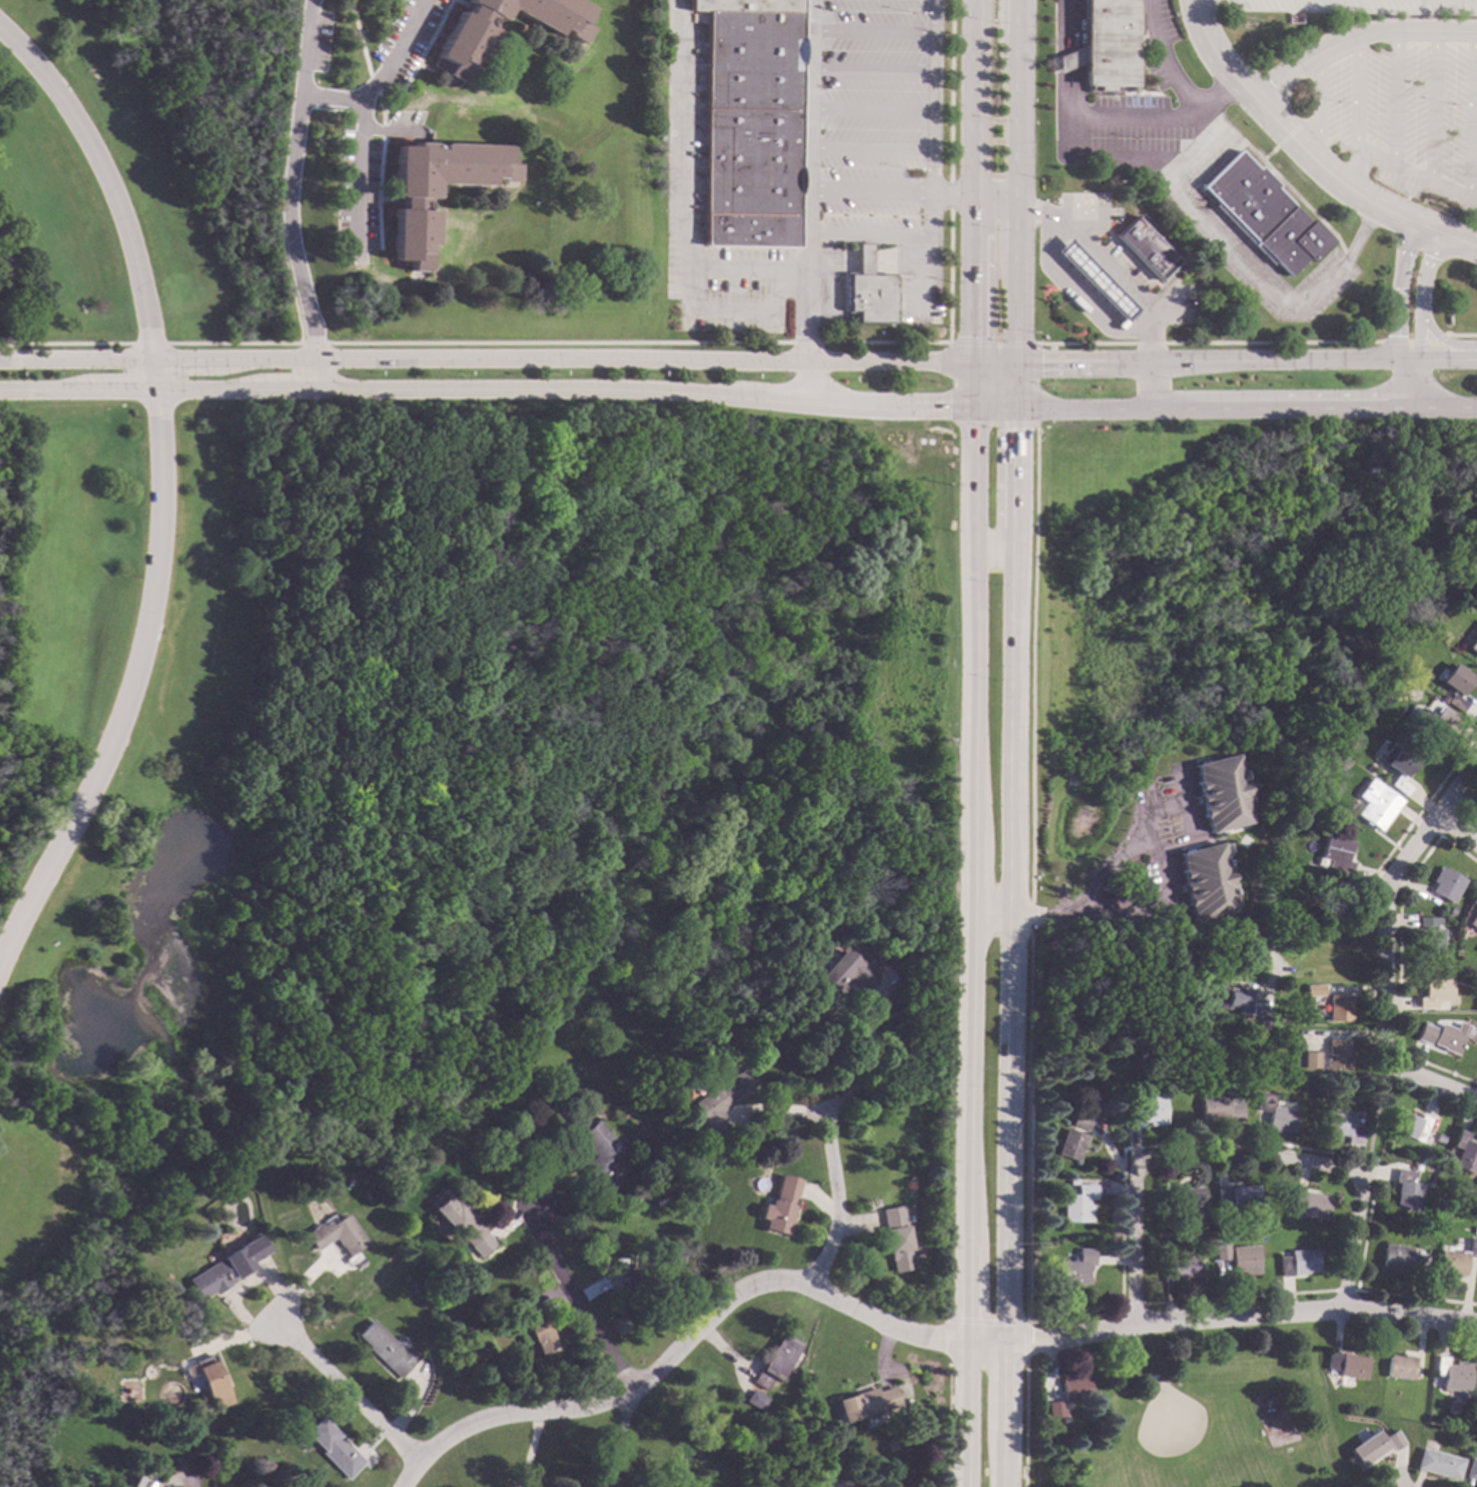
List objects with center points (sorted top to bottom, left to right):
road: (1020, 16)
road: (1073, 25)
road: (874, 32)
road: (1354, 34)
building: (466, 39)
building: (1104, 44)
road: (1165, 57)
road: (1073, 58)
road: (873, 71)
parking lot: (1374, 86)
road: (1072, 90)
road: (1215, 92)
road: (936, 96)
road: (1391, 97)
road: (332, 99)
road: (1430, 106)
road: (1315, 107)
road: (873, 110)
road: (1018, 113)
road: (1352, 114)
road: (1467, 115)
road: (679, 119)
road: (362, 121)
building: (752, 122)
road: (394, 130)
road: (1280, 130)
road: (872, 148)
road: (1076, 155)
road: (1155, 167)
road: (1176, 167)
road: (1414, 174)
road: (809, 180)
road: (871, 192)
road: (952, 193)
road: (994, 194)
park: (112, 196)
road: (288, 196)
building: (411, 203)
road: (971, 203)
building: (1260, 214)
road: (933, 220)
road: (1016, 226)
road: (1360, 232)
road: (864, 234)
road: (1443, 235)
building: (1143, 249)
road: (832, 260)
road: (863, 261)
road: (894, 261)
road: (1109, 266)
building: (1180, 268)
road: (731, 269)
road: (1251, 272)
road: (918, 280)
building: (1092, 282)
road: (1394, 290)
building: (867, 291)
road: (1075, 293)
road: (827, 294)
road: (1015, 310)
road: (731, 312)
road: (1416, 318)
road: (1440, 340)
road: (1436, 358)
road: (484, 360)
traffic signals: (970, 362)
road: (992, 362)
road: (1204, 362)
traffic signals: (1014, 363)
road: (806, 383)
road: (1396, 383)
road: (1014, 386)
road: (1150, 386)
road: (485, 390)
road: (1437, 406)
traffic signals: (970, 408)
road: (992, 408)
road: (1206, 408)
traffic signals: (1014, 409)
road: (1012, 468)
road: (157, 487)
road: (989, 551)
park: (1232, 575)
building: (1473, 644)
building: (1453, 686)
building: (1362, 716)
building: (1428, 721)
road: (1010, 722)
building: (1396, 766)
park: (406, 768)
building: (1217, 792)
building: (1304, 804)
building: (1373, 804)
road: (1158, 812)
road: (1454, 834)
building: (1243, 841)
building: (1299, 845)
road: (1130, 850)
building: (1334, 853)
building: (1204, 882)
building: (1444, 884)
building: (1336, 893)
road: (1383, 898)
road: (1087, 911)
road: (990, 917)
building: (1473, 920)
building: (1428, 937)
road: (969, 947)
road: (1164, 947)
building: (845, 973)
building: (1312, 990)
building: (1435, 994)
building: (1234, 1001)
building: (1336, 1007)
building: (1261, 1024)
building: (1424, 1033)
building: (1449, 1037)
building: (772, 1038)
building: (1335, 1054)
building: (1309, 1059)
road: (867, 1061)
road: (1434, 1082)
building: (717, 1099)
building: (1216, 1107)
road: (1374, 1109)
building: (1143, 1112)
building: (1273, 1114)
building: (1076, 1120)
building: (1408, 1125)
building: (1339, 1126)
road: (1006, 1130)
road: (1233, 1139)
building: (1437, 1142)
building: (1067, 1143)
road: (1234, 1153)
building: (1464, 1153)
building: (602, 1157)
building: (908, 1180)
building: (1068, 1181)
building: (1043, 1185)
building: (1405, 1188)
building: (1220, 1195)
building: (1240, 1197)
building: (1181, 1199)
building: (658, 1202)
road: (831, 1203)
building: (1075, 1204)
building: (1309, 1204)
building: (776, 1206)
building: (1427, 1219)
building: (462, 1223)
building: (1474, 1230)
building: (334, 1234)
building: (895, 1237)
building: (1472, 1247)
building: (1218, 1251)
building: (1241, 1259)
building: (1402, 1260)
building: (1296, 1262)
building: (1450, 1262)
building: (1074, 1267)
building: (1177, 1267)
building: (225, 1268)
building: (643, 1281)
road: (1342, 1290)
road: (1236, 1296)
road: (1413, 1296)
road: (577, 1300)
road: (1131, 1305)
road: (1074, 1314)
road: (1240, 1316)
road: (1004, 1322)
building: (537, 1329)
road: (692, 1334)
building: (385, 1349)
building: (1329, 1360)
building: (775, 1361)
building: (1349, 1366)
building: (1398, 1367)
building: (1452, 1374)
building: (208, 1381)
building: (1072, 1388)
road: (1003, 1389)
road: (345, 1394)
building: (755, 1400)
building: (864, 1402)
building: (1053, 1409)
park: (1201, 1414)
park: (1173, 1434)
building: (1392, 1439)
road: (1003, 1441)
building: (332, 1448)
building: (1367, 1448)
building: (1438, 1463)
road: (1002, 1467)
building: (1471, 1469)
building: (157, 1481)
building: (1476, 1483)
building: (831, 1484)

